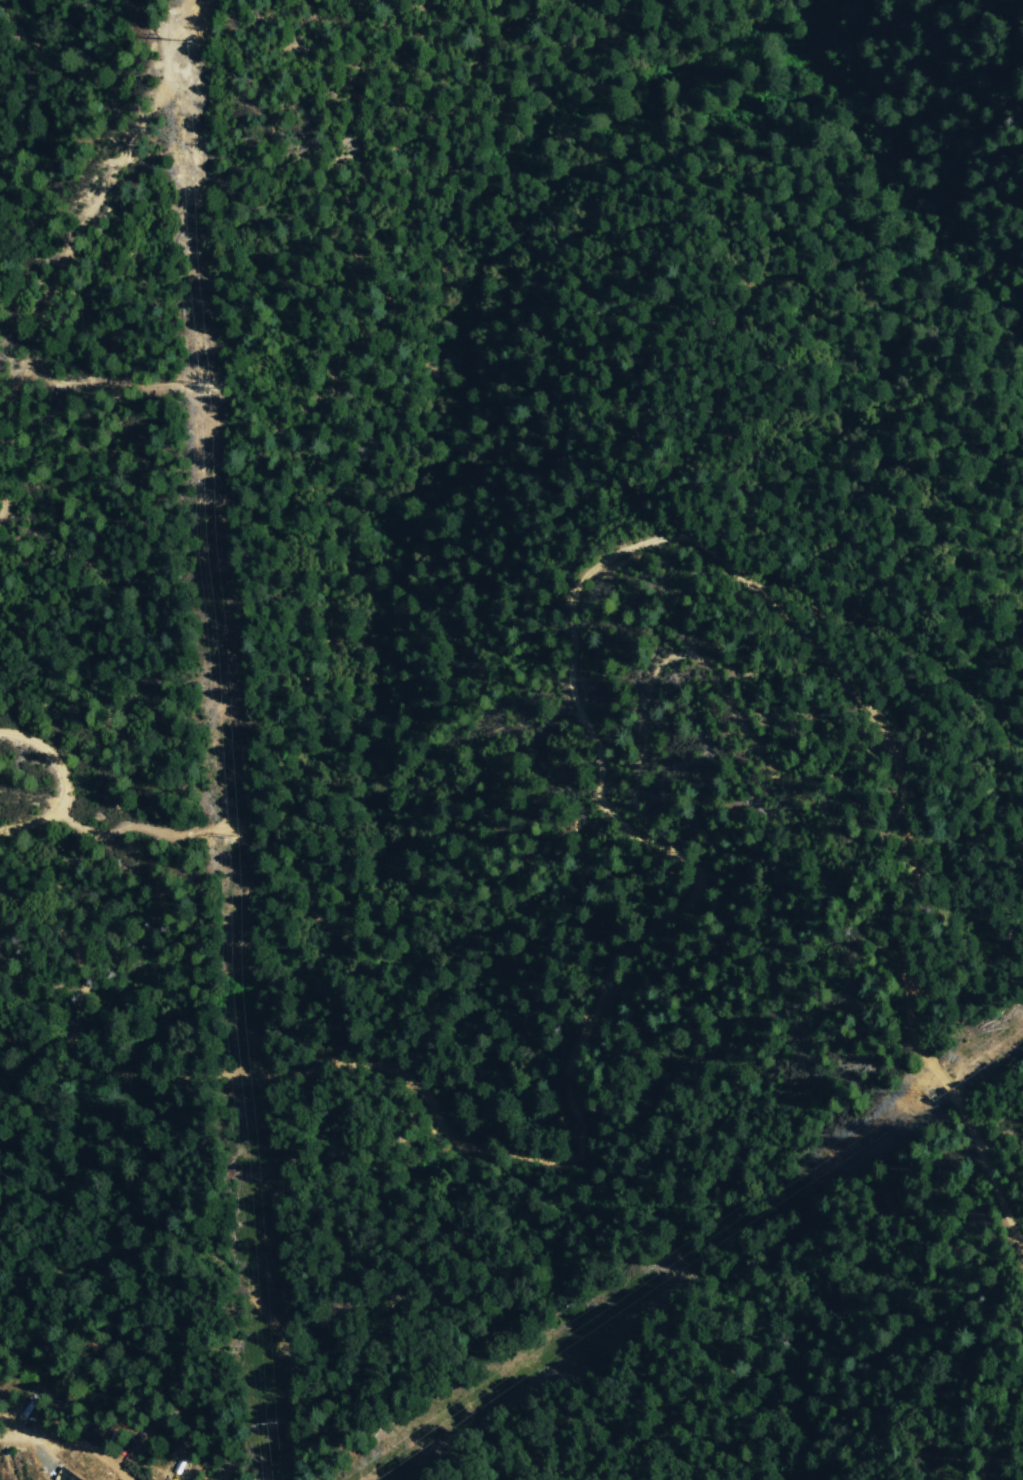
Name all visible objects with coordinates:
power tower: (191, 41)
power tower: (216, 381)
power tower: (933, 1098)
power tower: (289, 1419)

